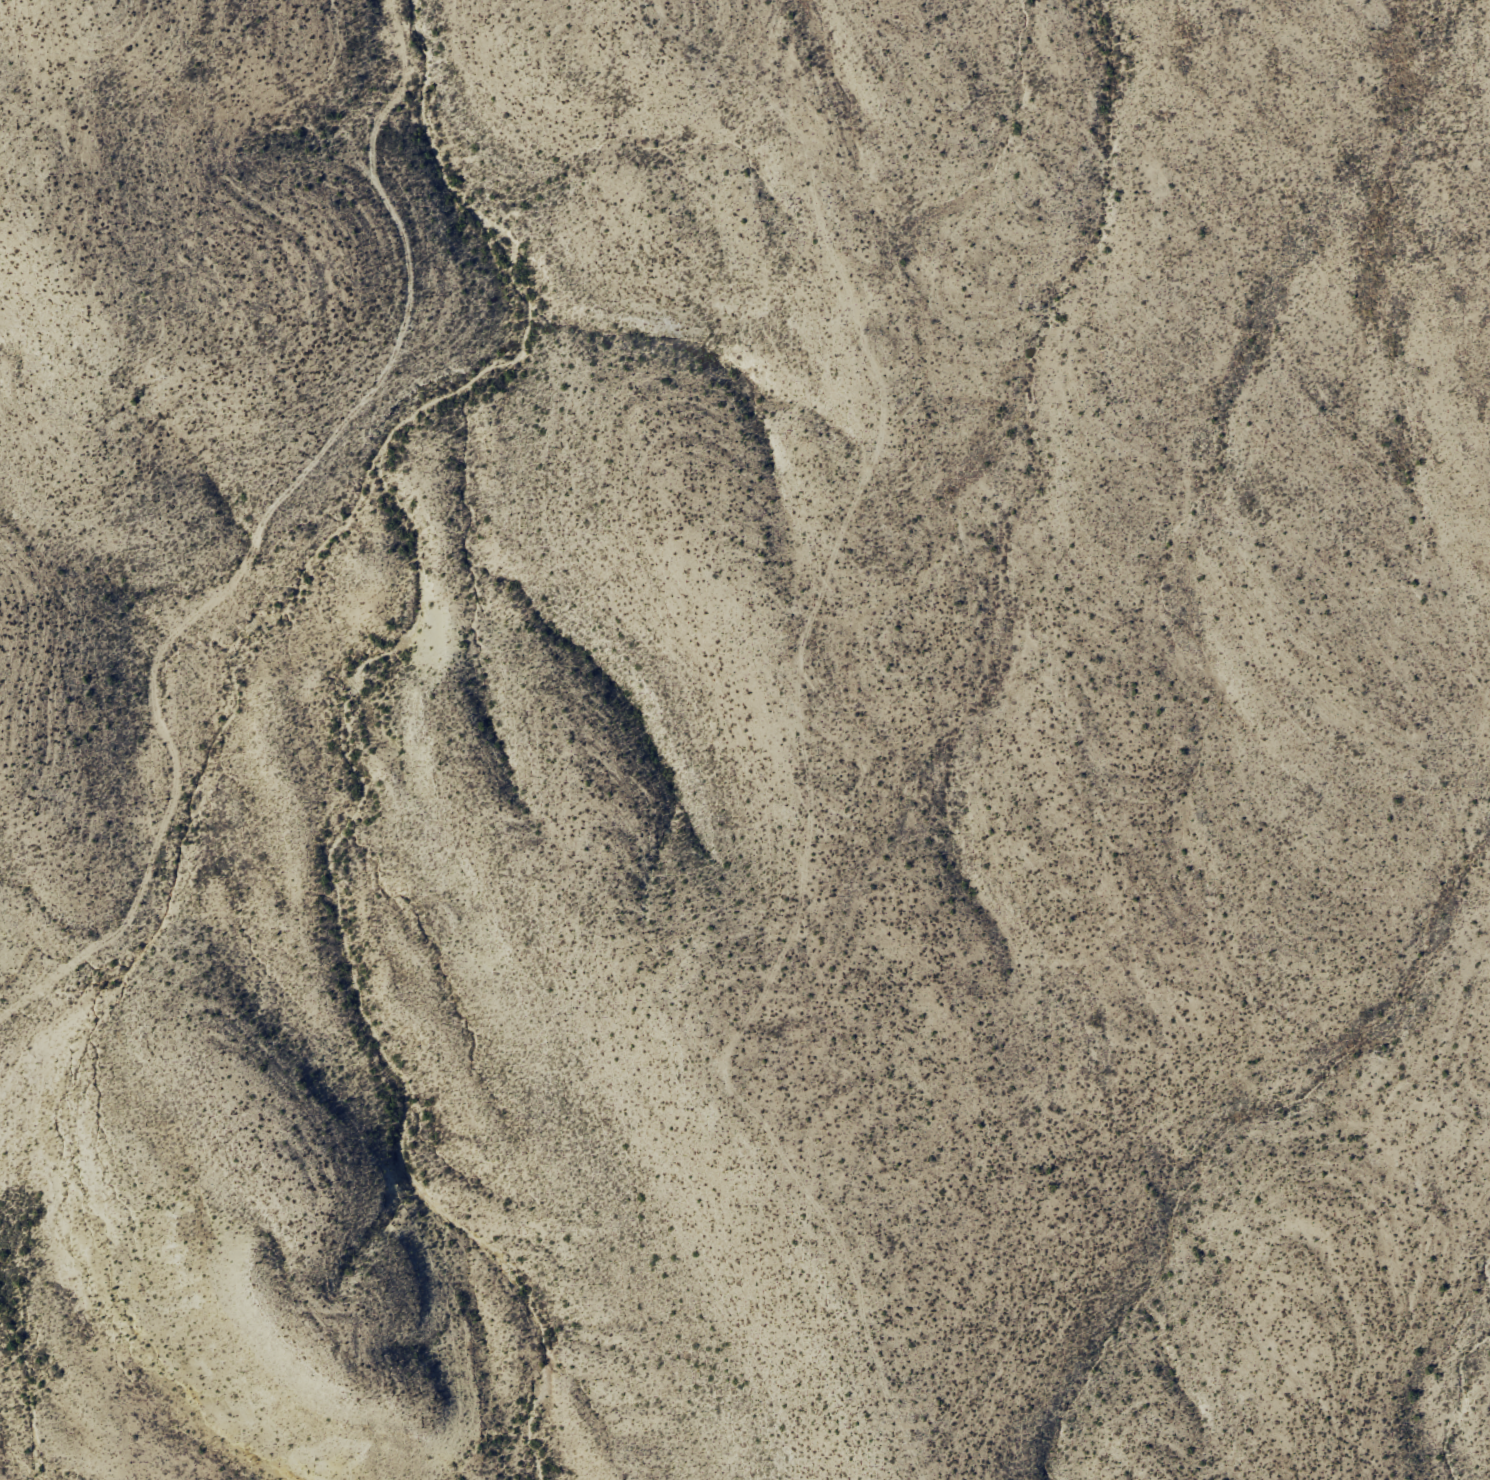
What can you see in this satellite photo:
road: (263, 545)

